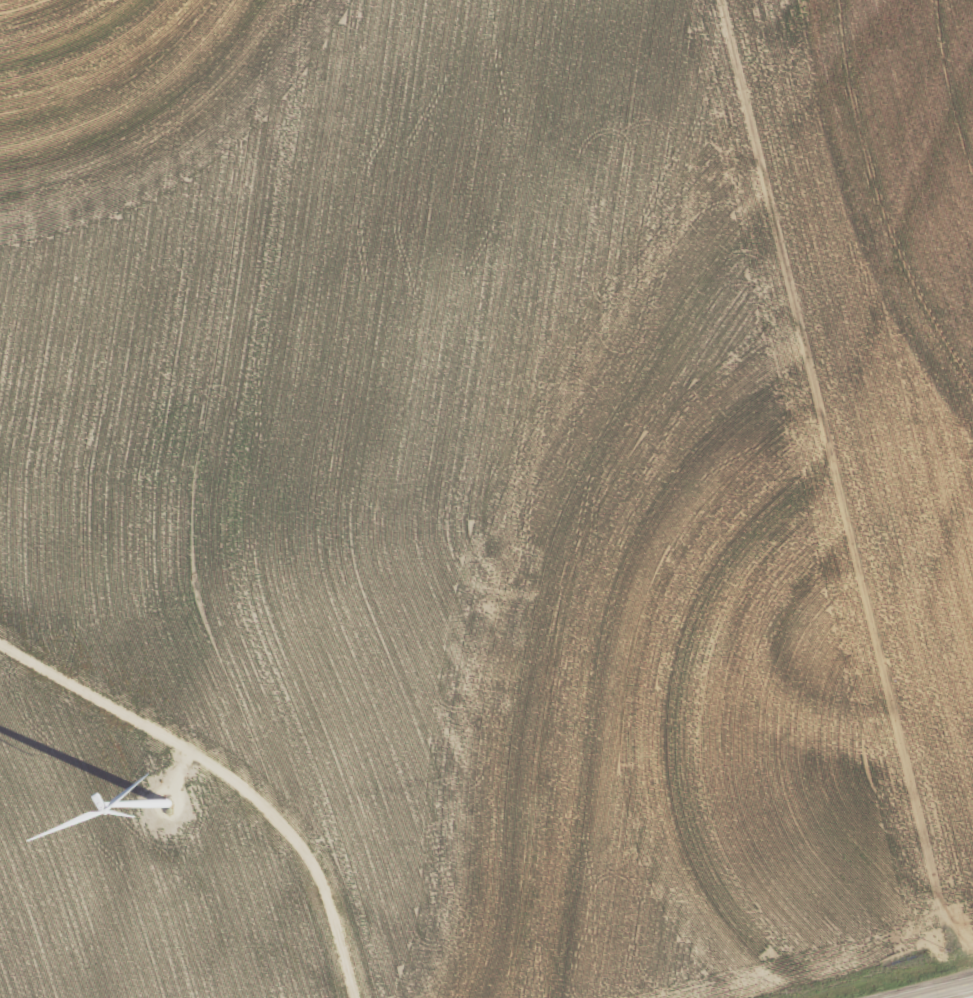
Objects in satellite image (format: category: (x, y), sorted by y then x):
road: (227, 776)
wind turbine: (160, 804)
road: (945, 991)
road: (969, 992)

